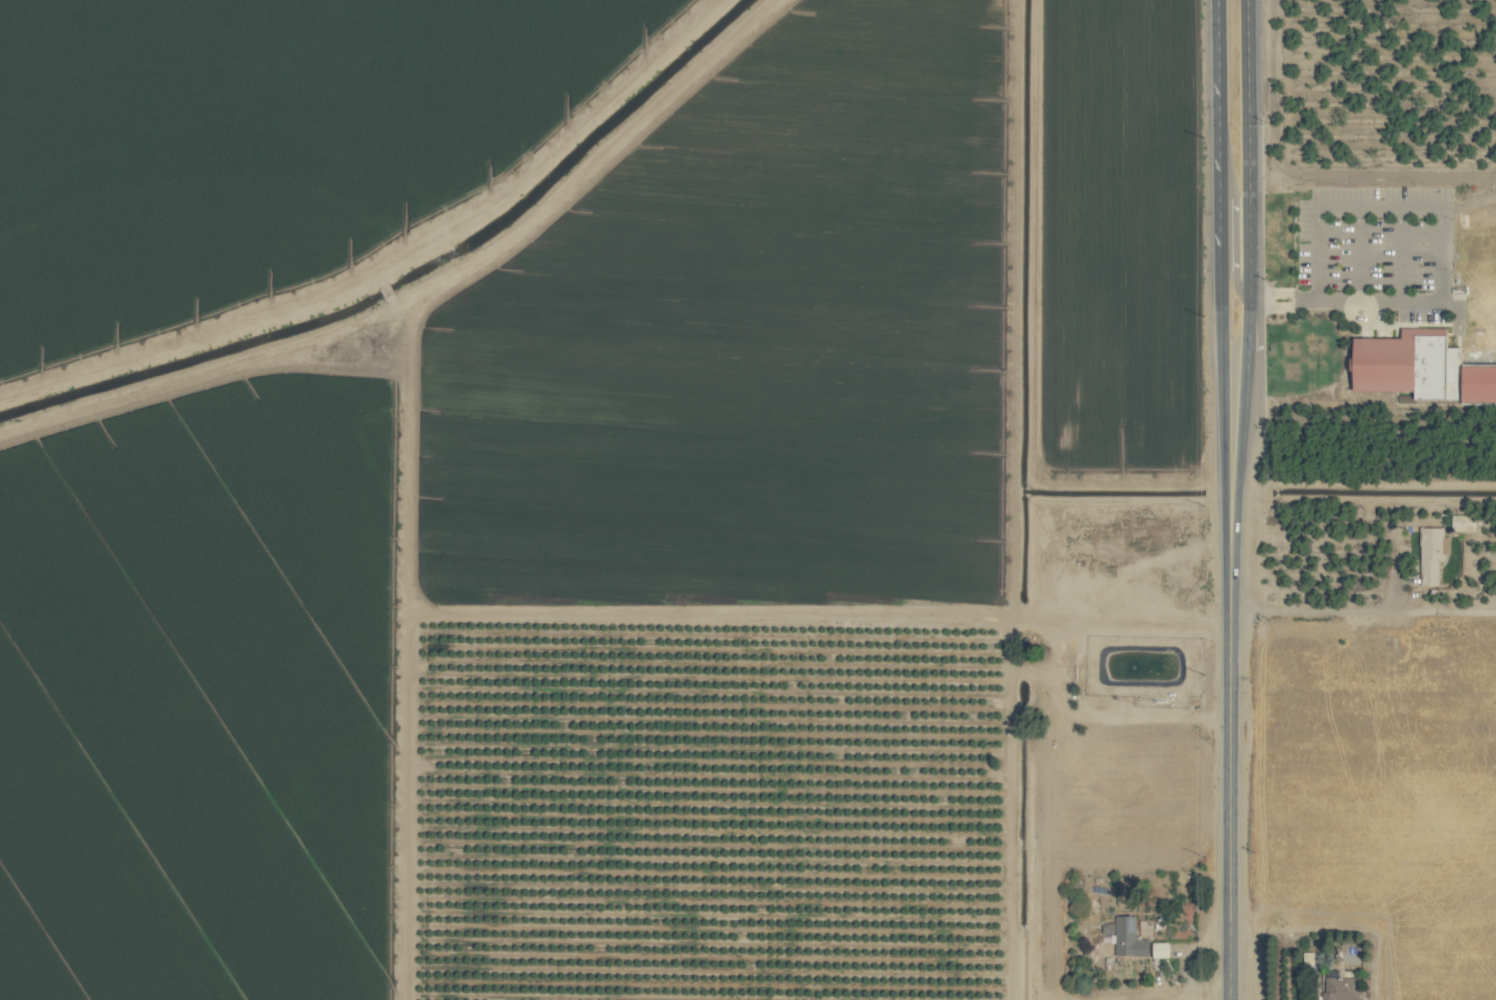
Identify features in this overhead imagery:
road: (1218, 122)
road: (1247, 149)
road: (1235, 207)
road: (1283, 294)
road: (1378, 301)
road: (1282, 308)
road: (1247, 325)
road: (1246, 361)
building: (1410, 364)
road: (1221, 377)
road: (1240, 439)
crop: (748, 500)
road: (1226, 532)
road: (1232, 532)
building: (1432, 554)
road: (1229, 586)
road: (1362, 611)
road: (1229, 767)
crop: (1371, 809)
building: (1129, 938)
building: (1162, 950)
road: (1229, 959)
building: (1341, 989)

